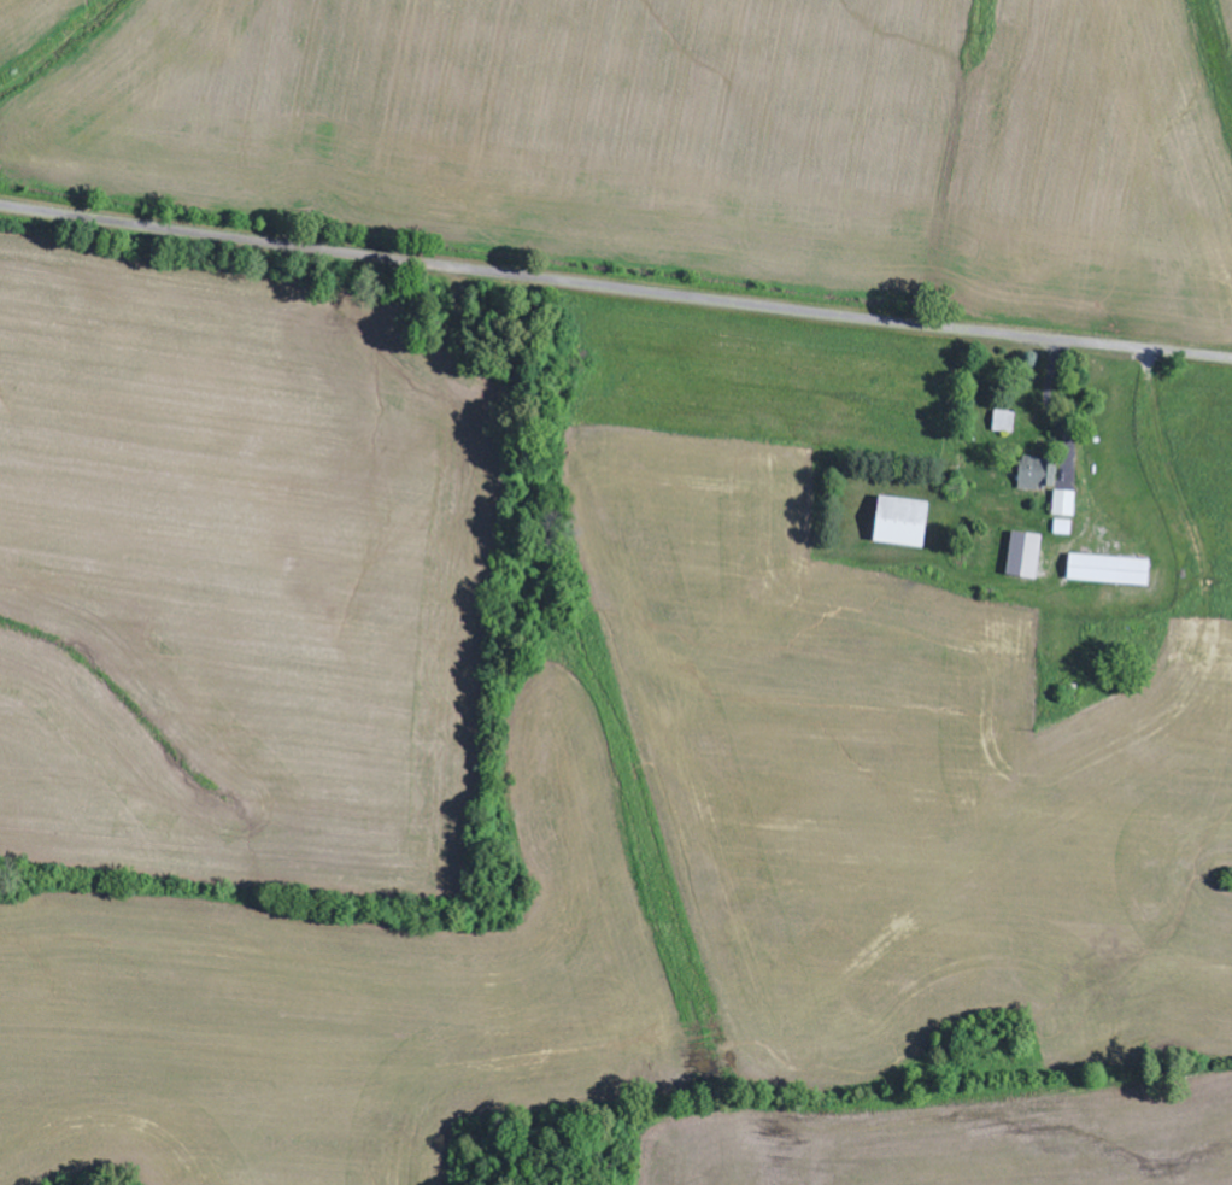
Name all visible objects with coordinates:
road: (615, 283)
building: (1007, 422)
building: (1036, 474)
building: (1067, 504)
building: (907, 523)
building: (1066, 528)
building: (1027, 556)
building: (1113, 570)

